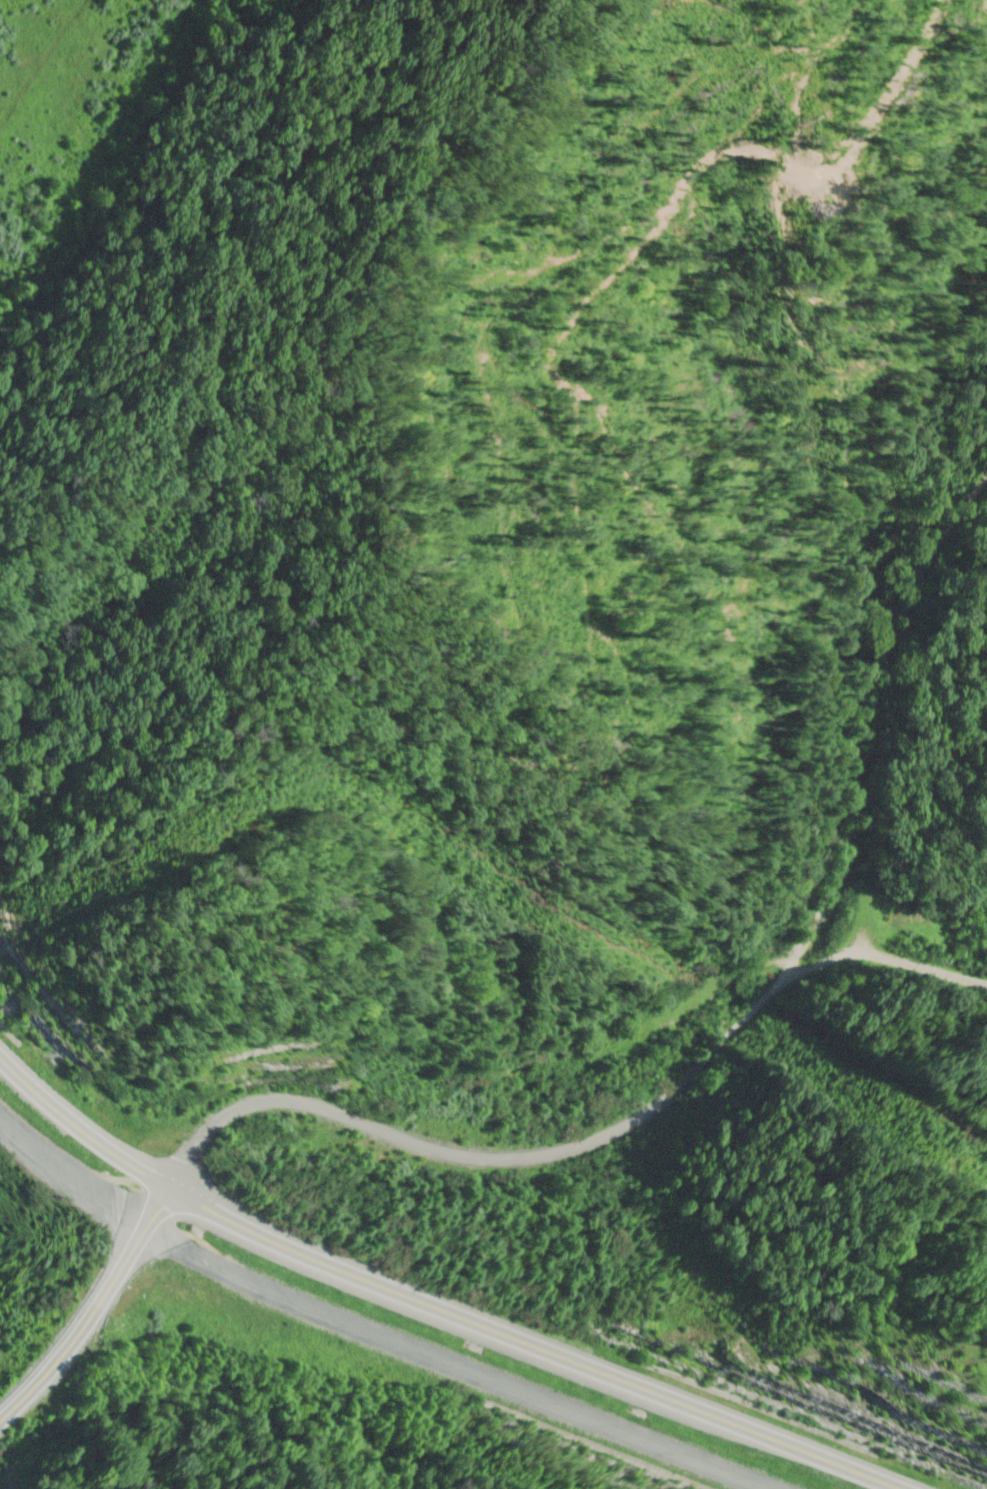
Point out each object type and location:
road: (876, 663)
road: (893, 967)
road: (551, 1161)
road: (444, 1303)
road: (92, 1311)

